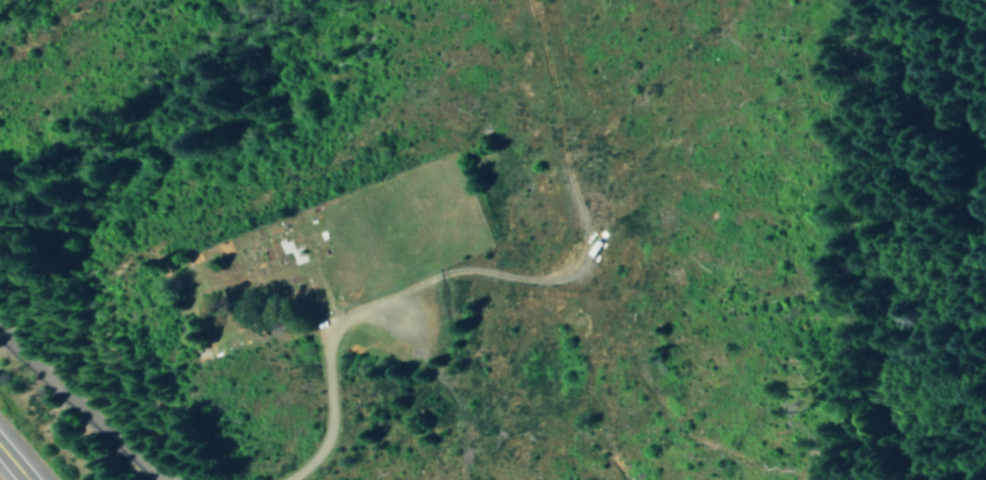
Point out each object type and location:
road: (545, 456)
road: (17, 461)
road: (26, 477)

